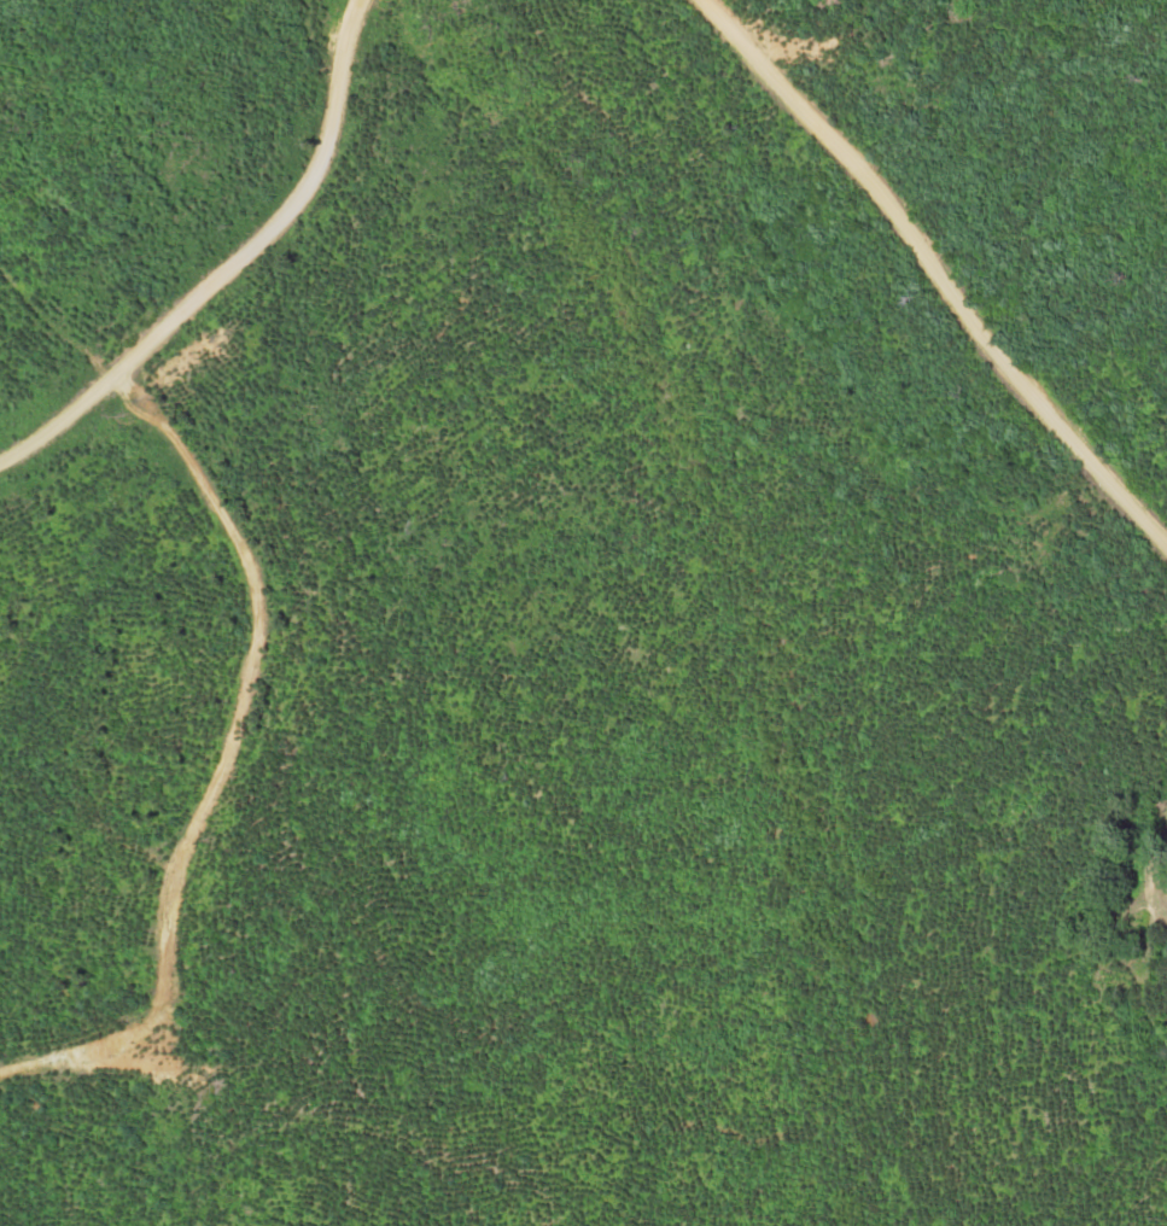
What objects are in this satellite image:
road: (231, 265)
road: (941, 272)

